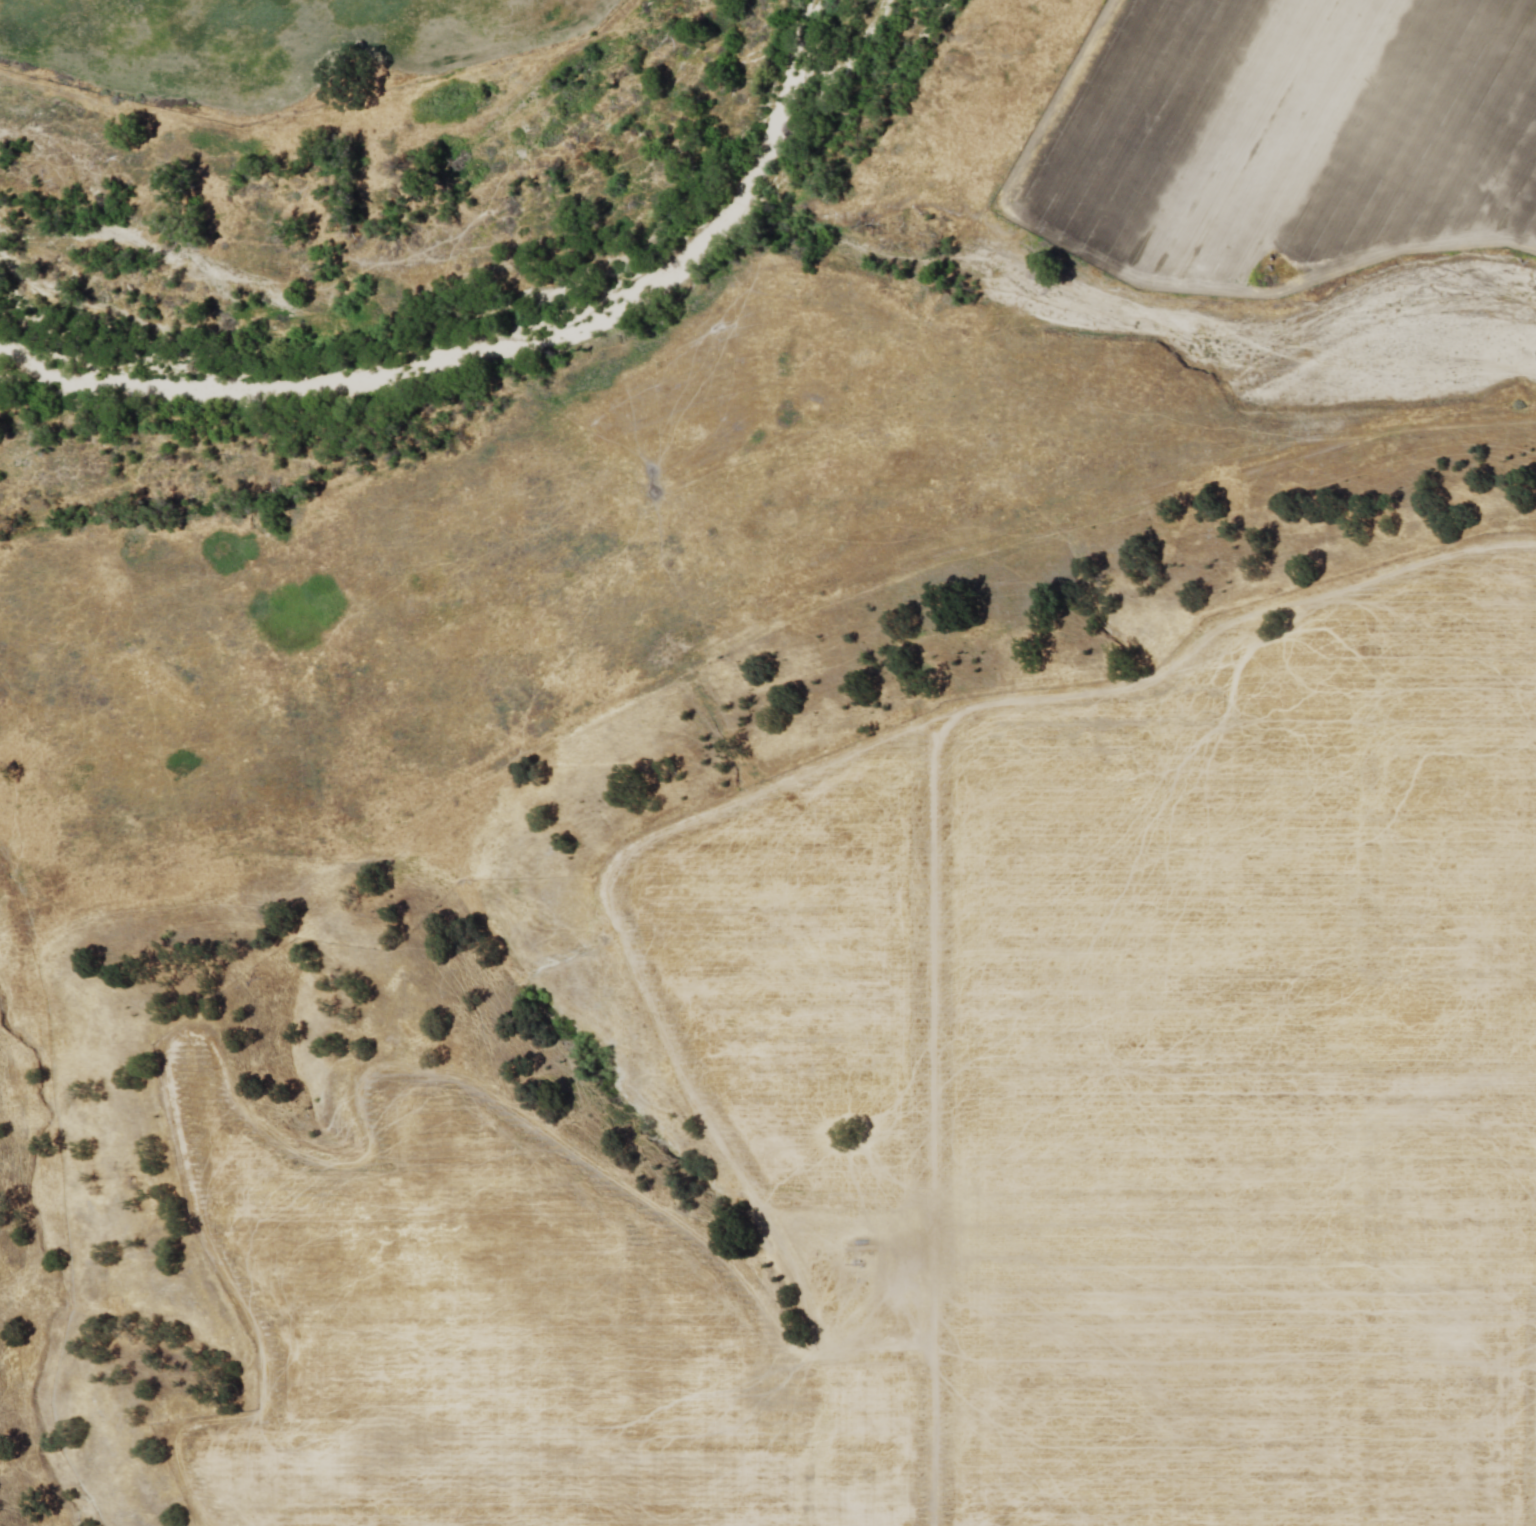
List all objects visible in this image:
crop: (273, 38)
river: (723, 101)
river: (325, 360)

